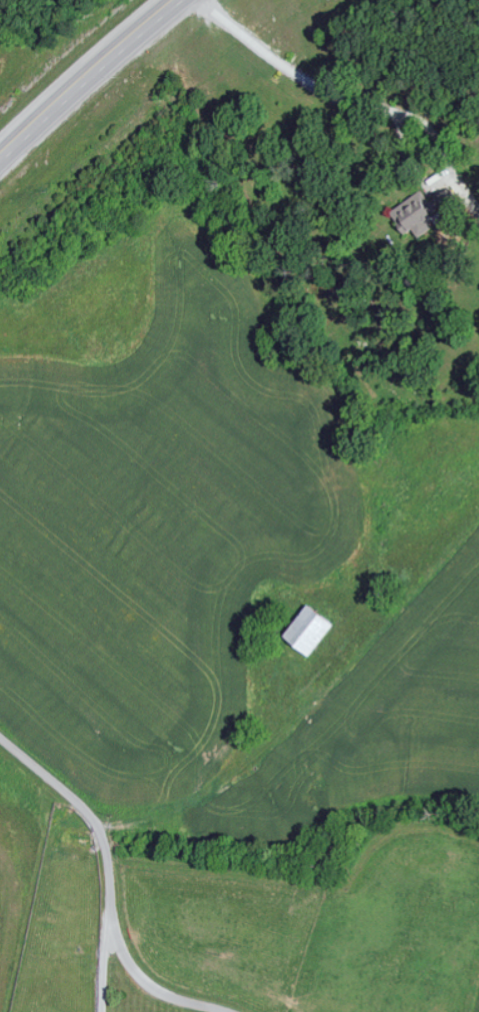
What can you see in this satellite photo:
road: (88, 77)
road: (352, 104)
road: (123, 110)
building: (410, 215)
building: (302, 630)
road: (58, 784)
road: (125, 956)
road: (103, 962)

